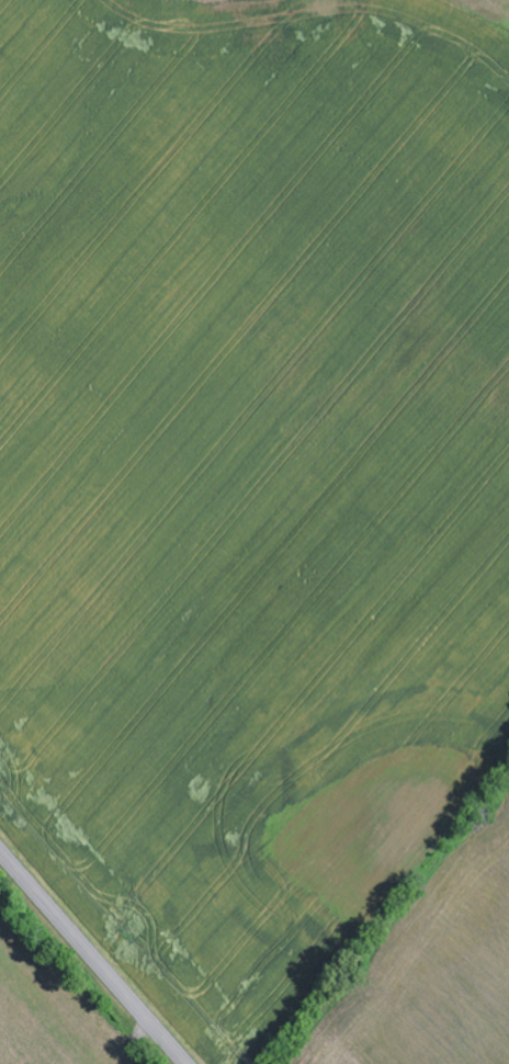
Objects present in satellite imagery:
road: (95, 954)

